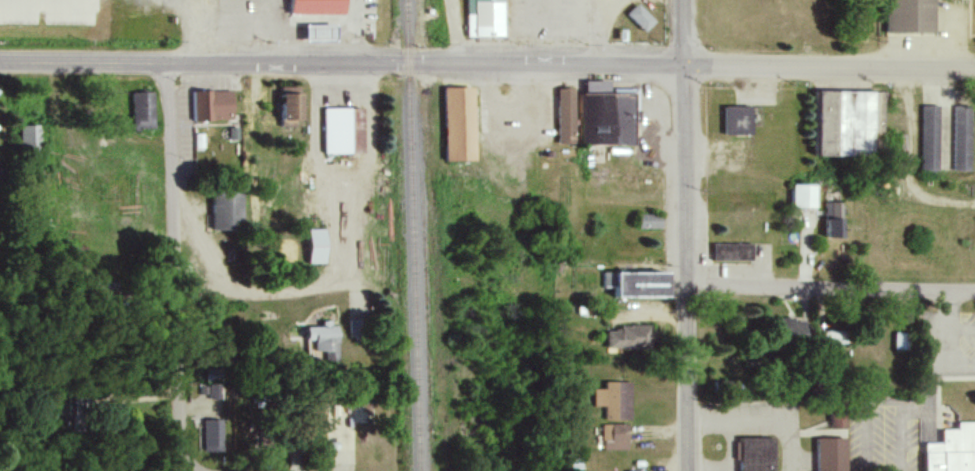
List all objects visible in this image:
building: (316, 7)
building: (641, 16)
building: (911, 16)
building: (486, 17)
road: (276, 32)
building: (318, 32)
road: (360, 32)
road: (487, 64)
building: (213, 103)
building: (291, 103)
building: (144, 108)
building: (566, 113)
building: (607, 113)
building: (738, 118)
building: (847, 121)
building: (460, 122)
building: (336, 129)
building: (930, 135)
building: (30, 136)
building: (962, 136)
road: (914, 159)
building: (805, 194)
building: (227, 208)
building: (834, 217)
building: (651, 220)
railway: (414, 235)
road: (685, 235)
building: (317, 244)
building: (733, 250)
road: (175, 267)
building: (637, 281)
road: (830, 289)
road: (280, 292)
building: (358, 325)
building: (793, 327)
road: (958, 328)
building: (629, 335)
building: (325, 338)
building: (901, 339)
road: (942, 340)
building: (214, 389)
building: (614, 398)
building: (70, 410)
building: (838, 417)
building: (213, 433)
building: (615, 435)
building: (951, 449)
building: (756, 453)
building: (831, 453)
road: (365, 461)
building: (636, 469)

